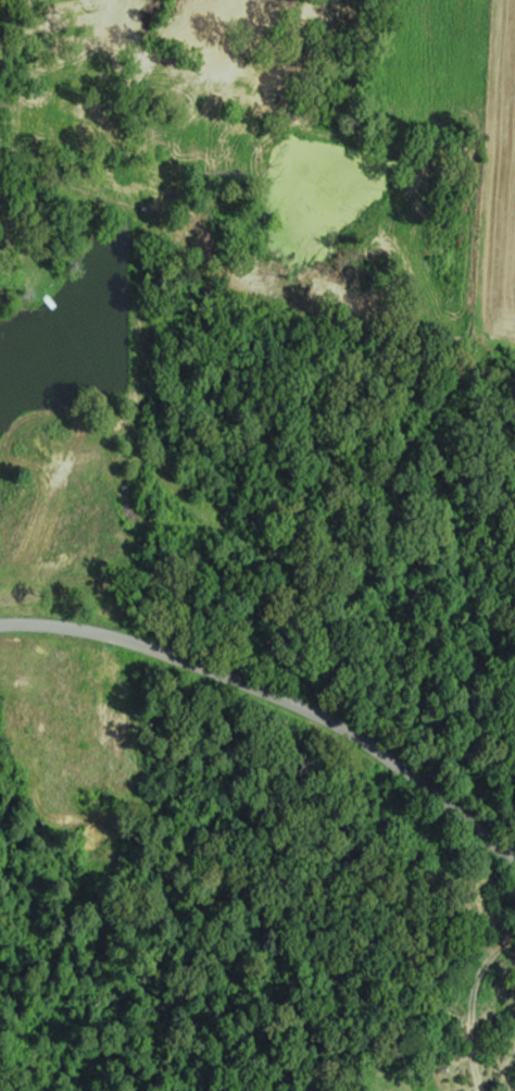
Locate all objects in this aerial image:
road: (275, 707)

